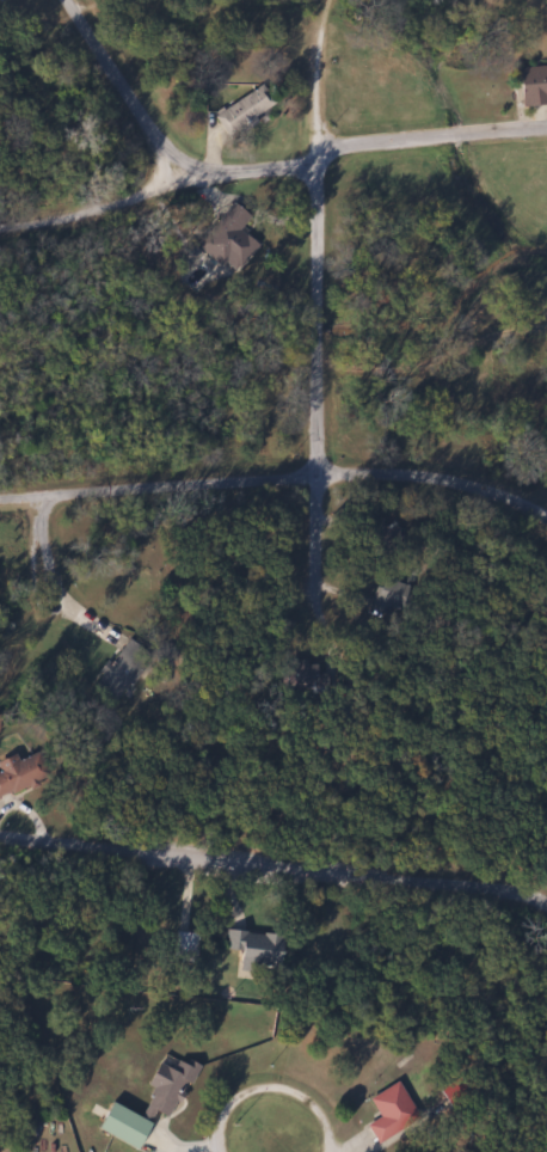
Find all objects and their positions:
building: (531, 85)
road: (129, 88)
building: (241, 112)
road: (423, 136)
road: (247, 173)
road: (90, 210)
building: (227, 239)
building: (189, 253)
road: (319, 394)
road: (276, 479)
building: (374, 532)
road: (478, 578)
road: (51, 582)
building: (387, 590)
building: (116, 670)
building: (18, 772)
road: (273, 863)
building: (248, 943)
building: (182, 946)
road: (277, 1084)
building: (143, 1104)
building: (388, 1111)

